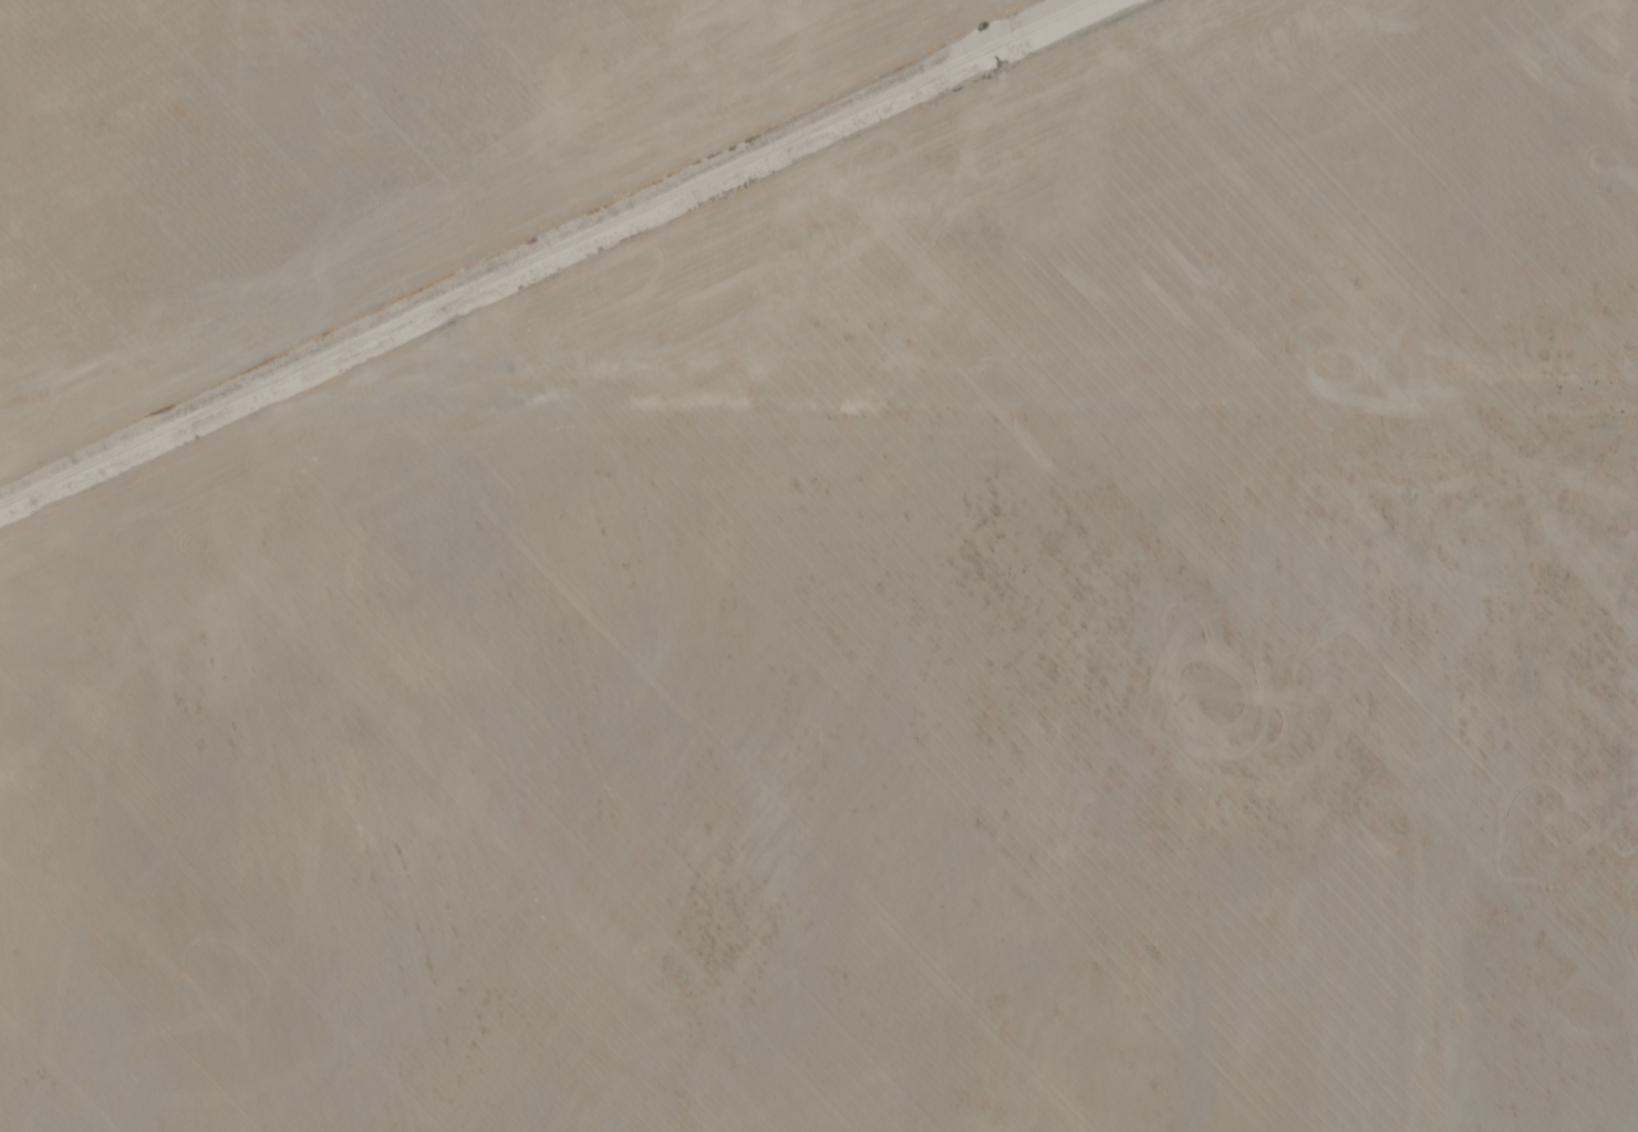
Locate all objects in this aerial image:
road: (819, 399)

